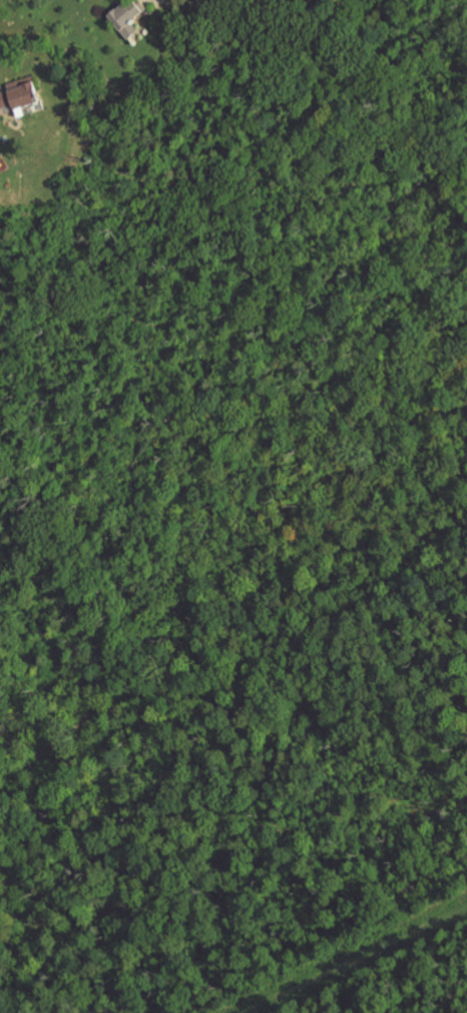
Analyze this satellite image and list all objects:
building: (131, 16)
building: (21, 94)
road: (353, 959)

